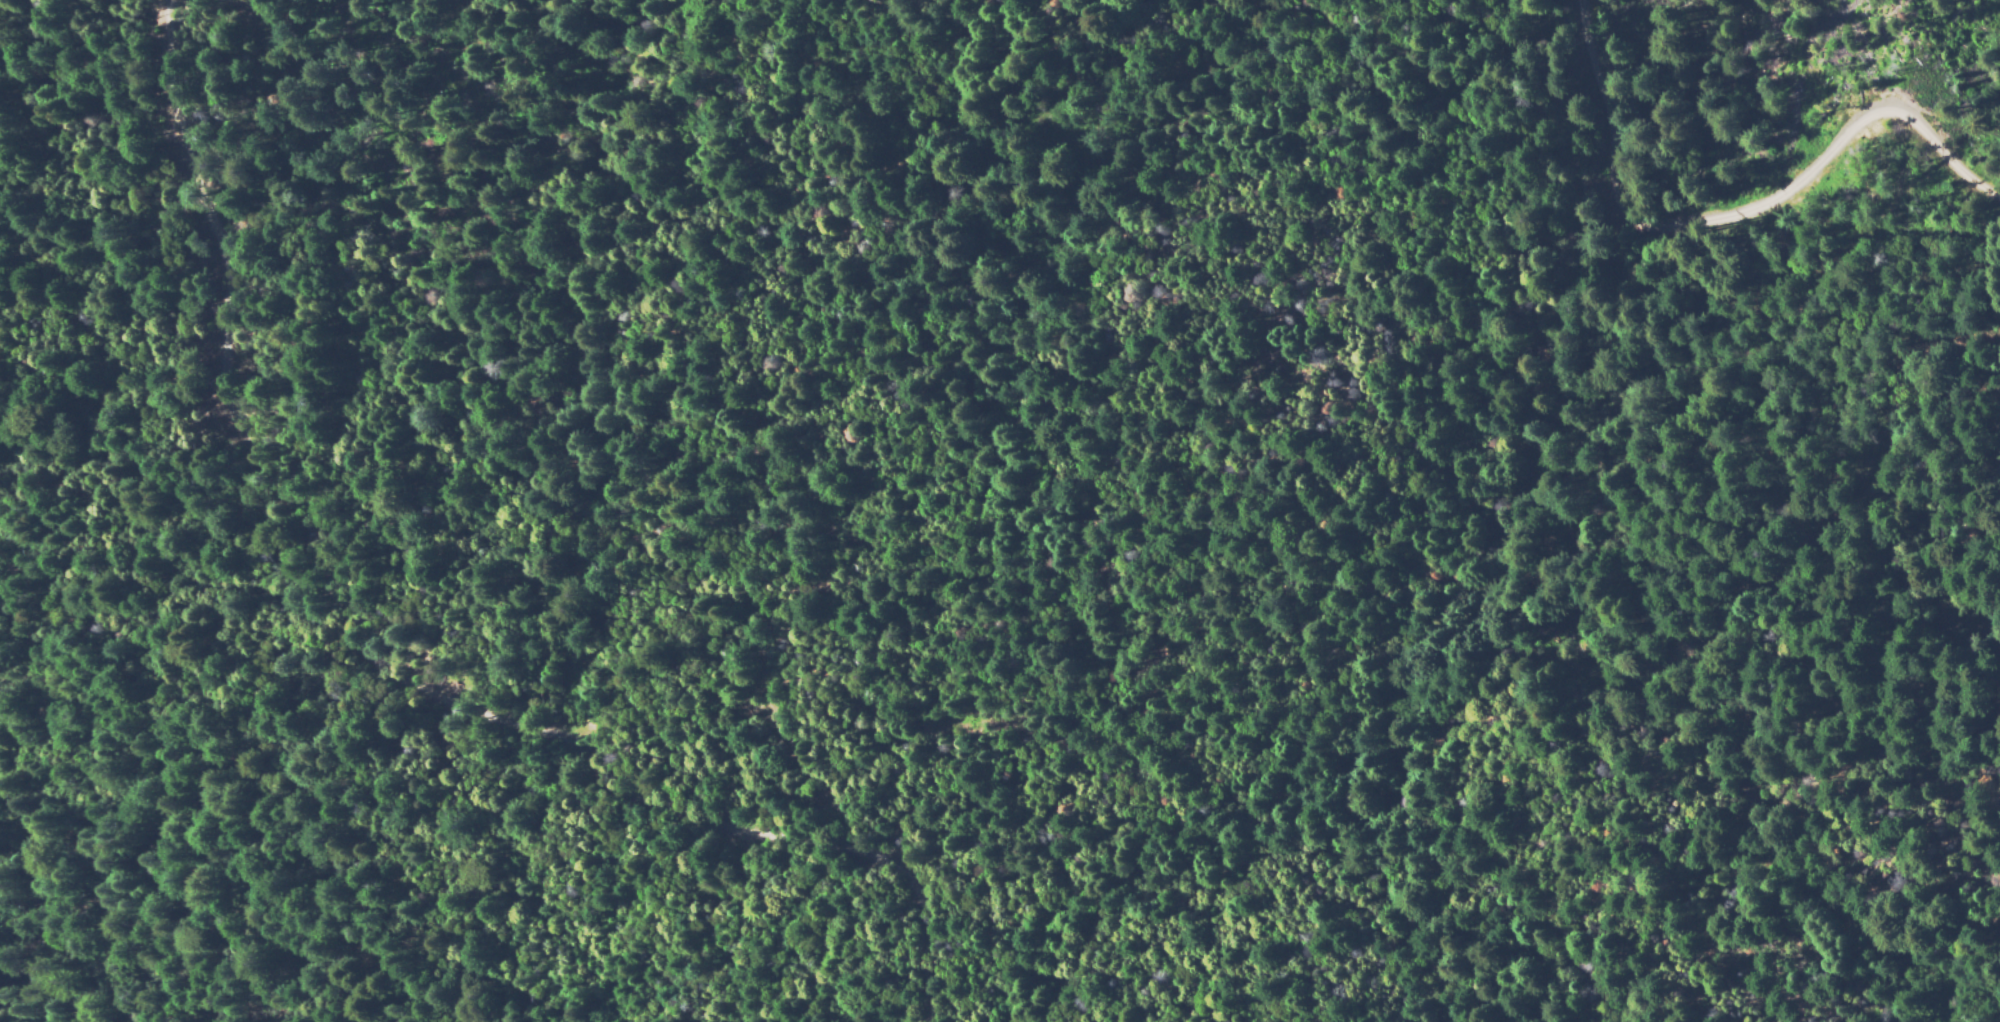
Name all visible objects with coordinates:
road: (1789, 624)

